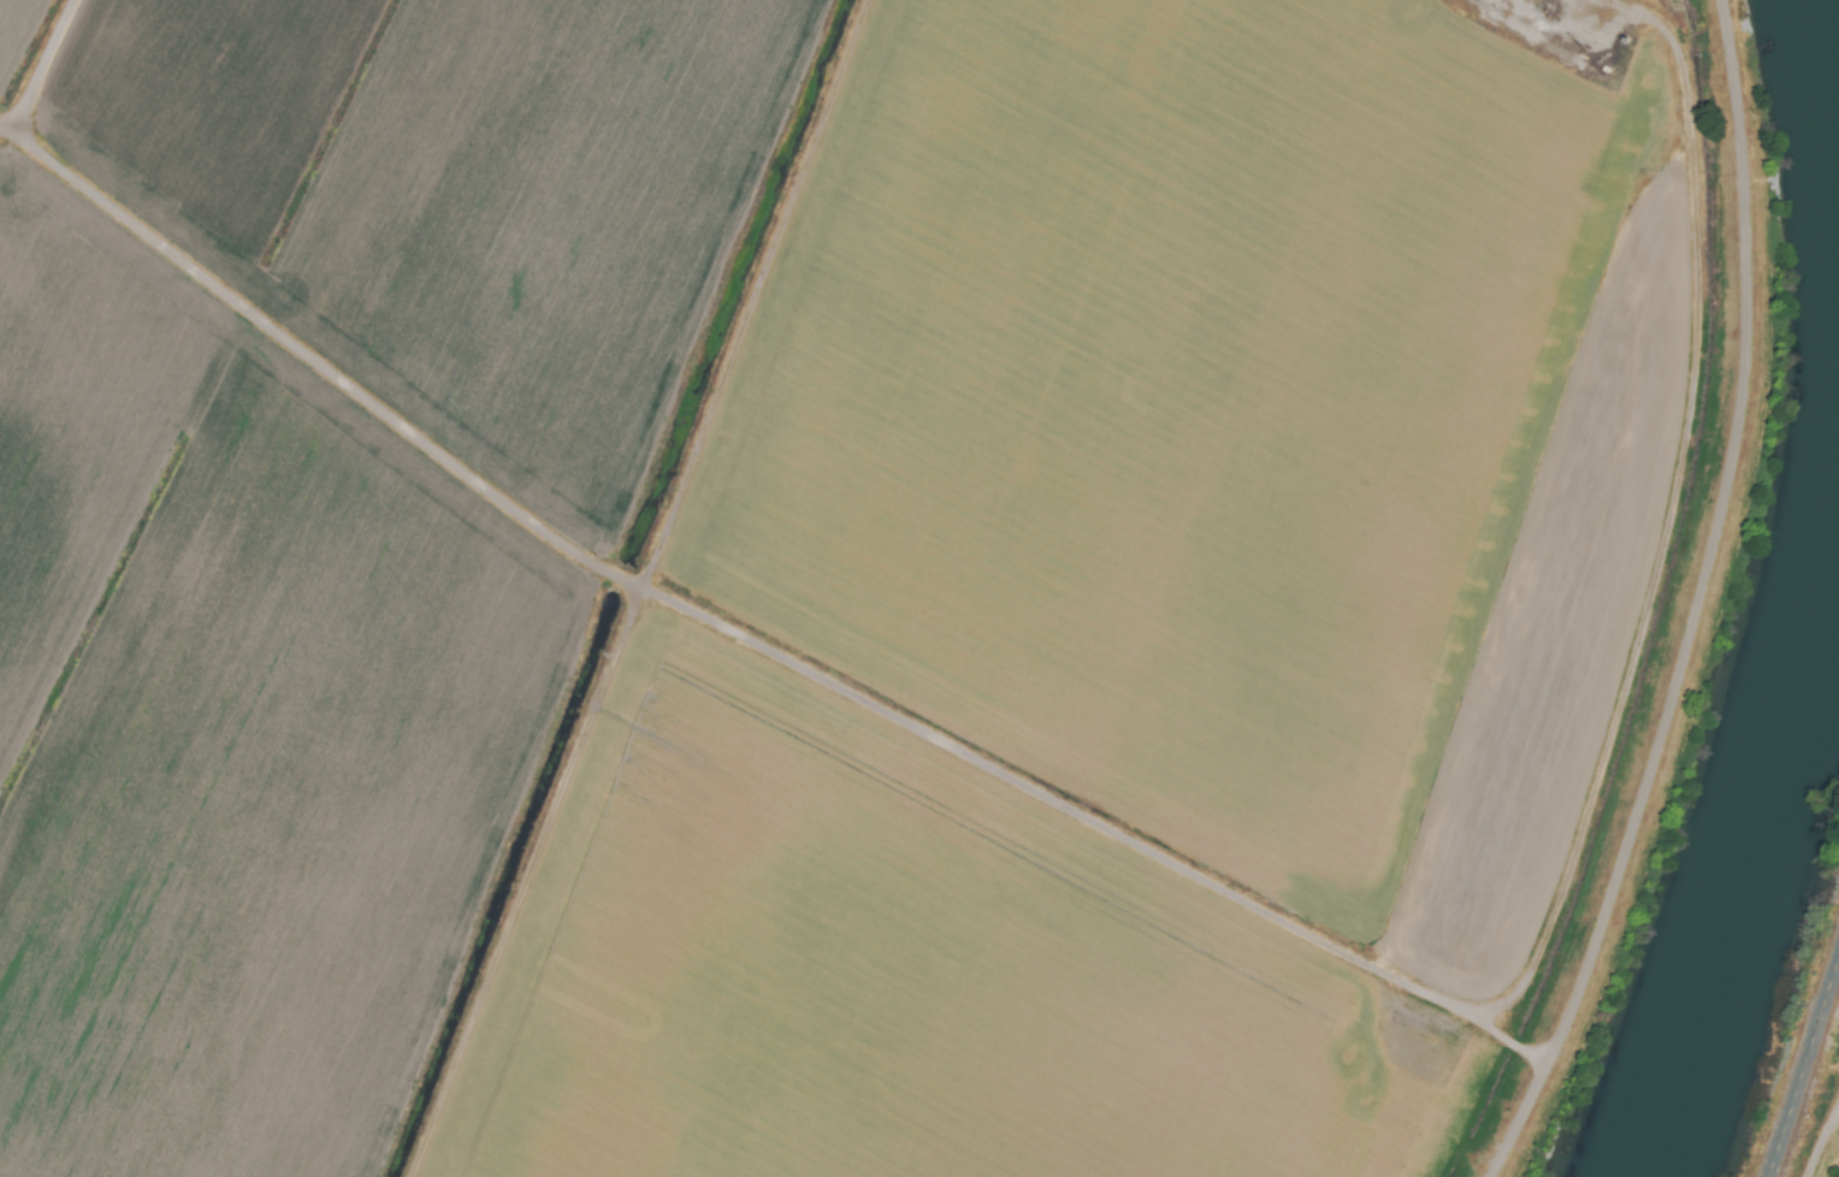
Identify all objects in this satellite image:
road: (1656, 563)
crop: (841, 574)
road: (643, 595)
road: (1693, 604)
road: (1510, 1048)
road: (1803, 1065)
crop: (1820, 1113)
road: (1819, 1138)

